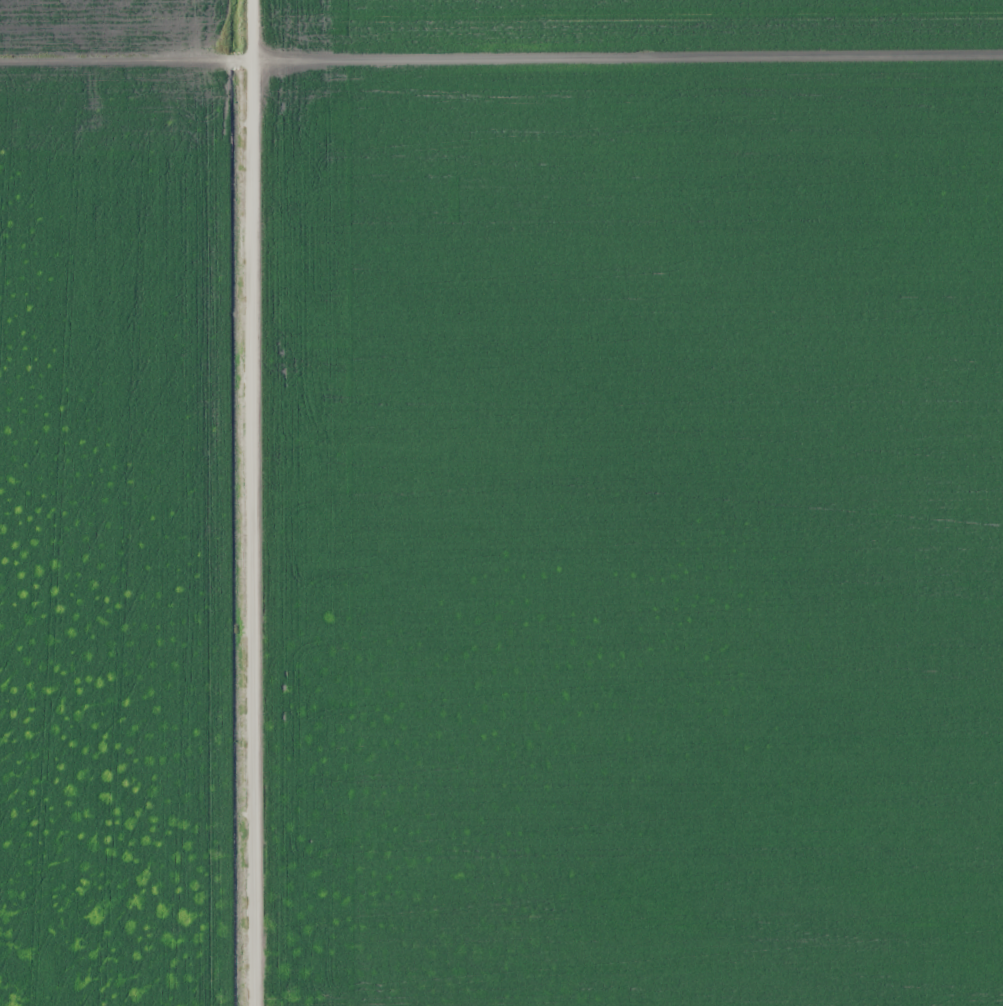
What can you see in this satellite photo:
road: (501, 67)
road: (254, 503)

